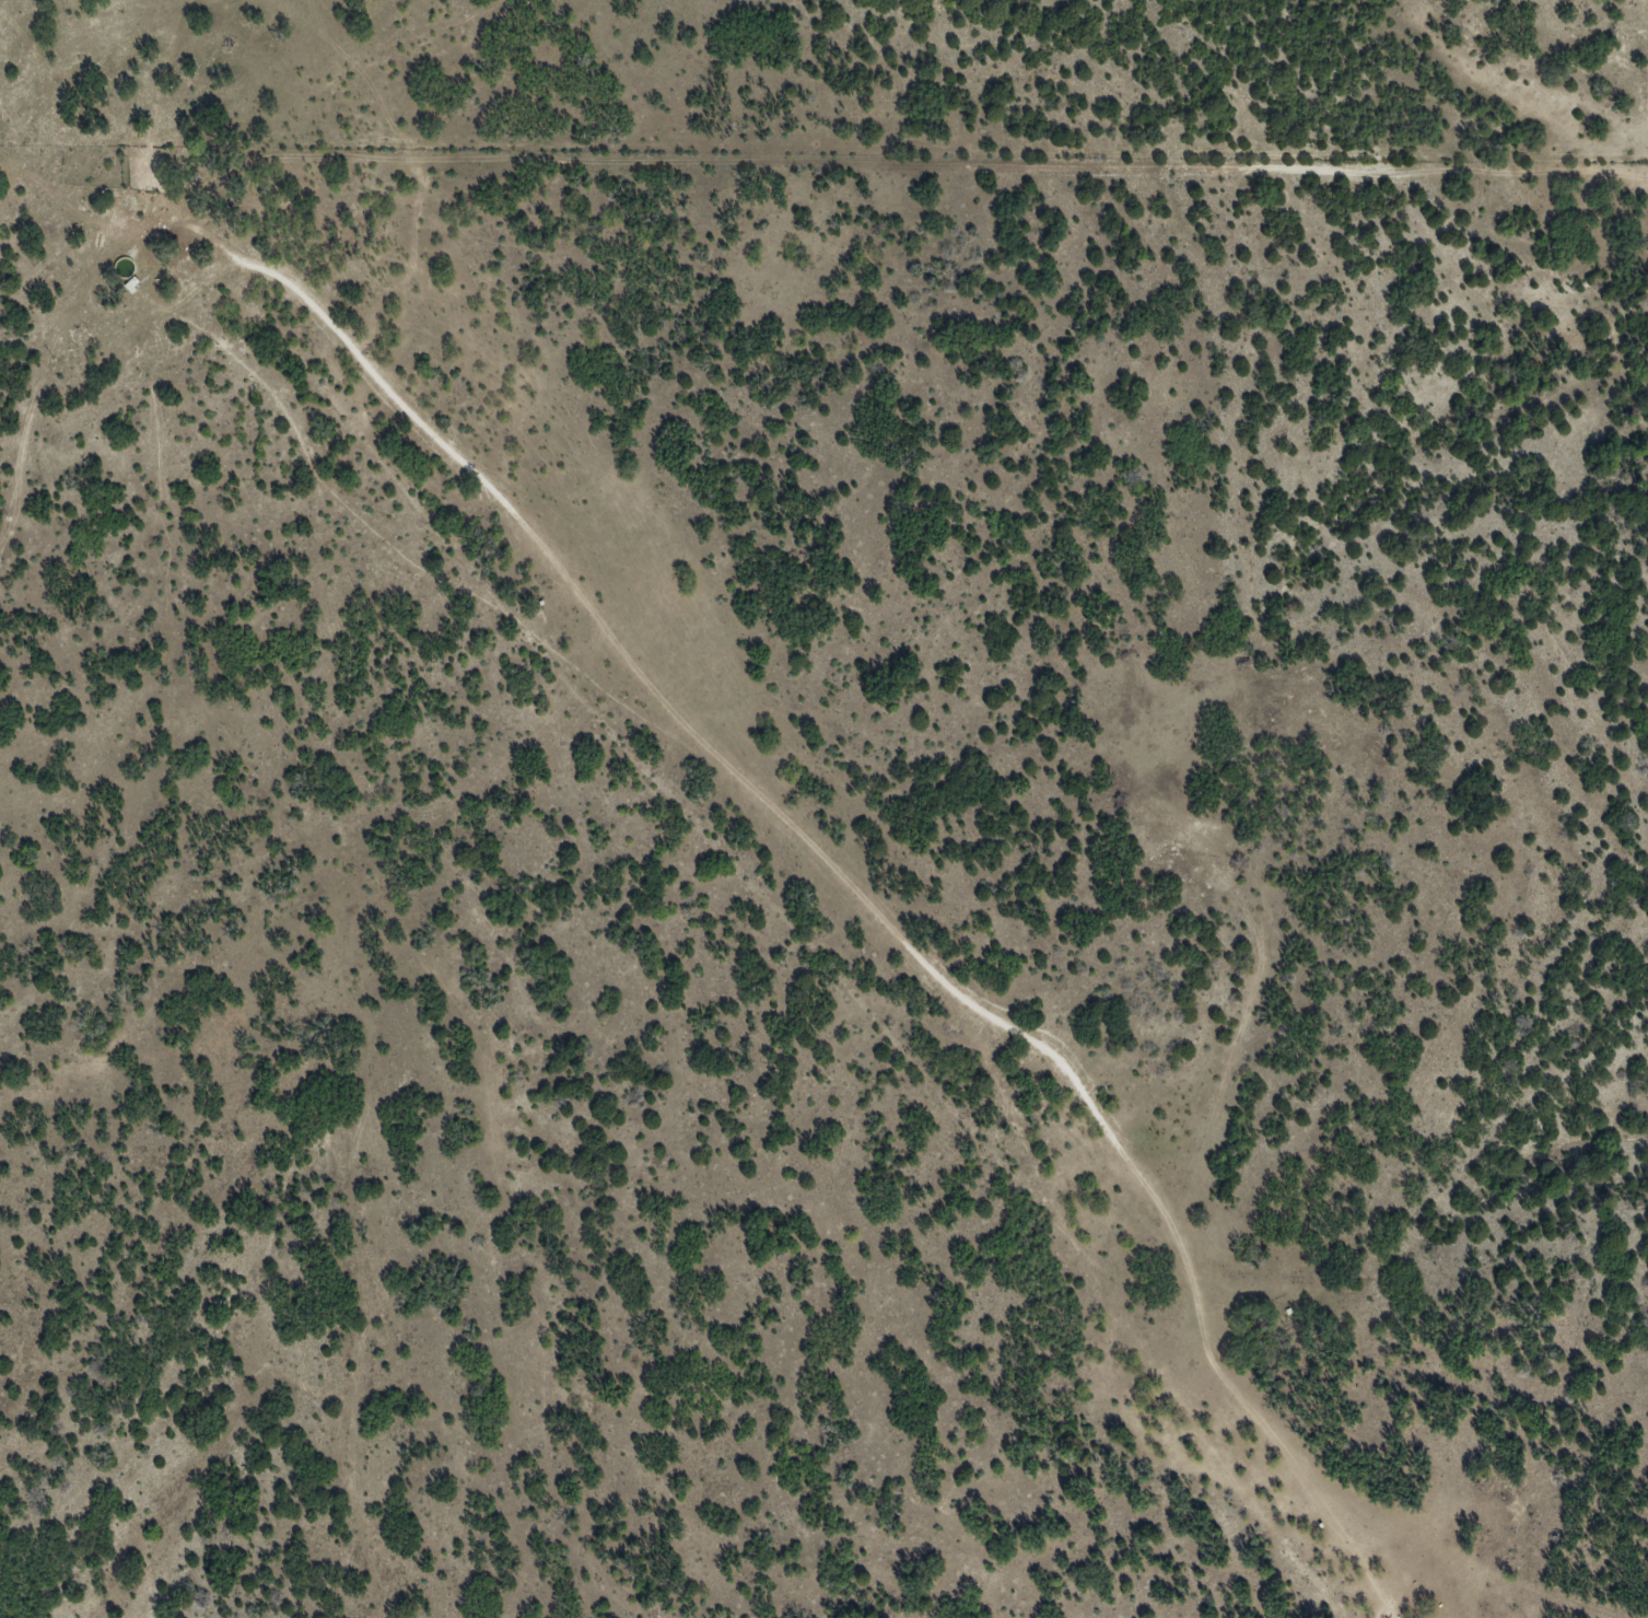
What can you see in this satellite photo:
road: (127, 39)
road: (668, 148)
road: (920, 921)

